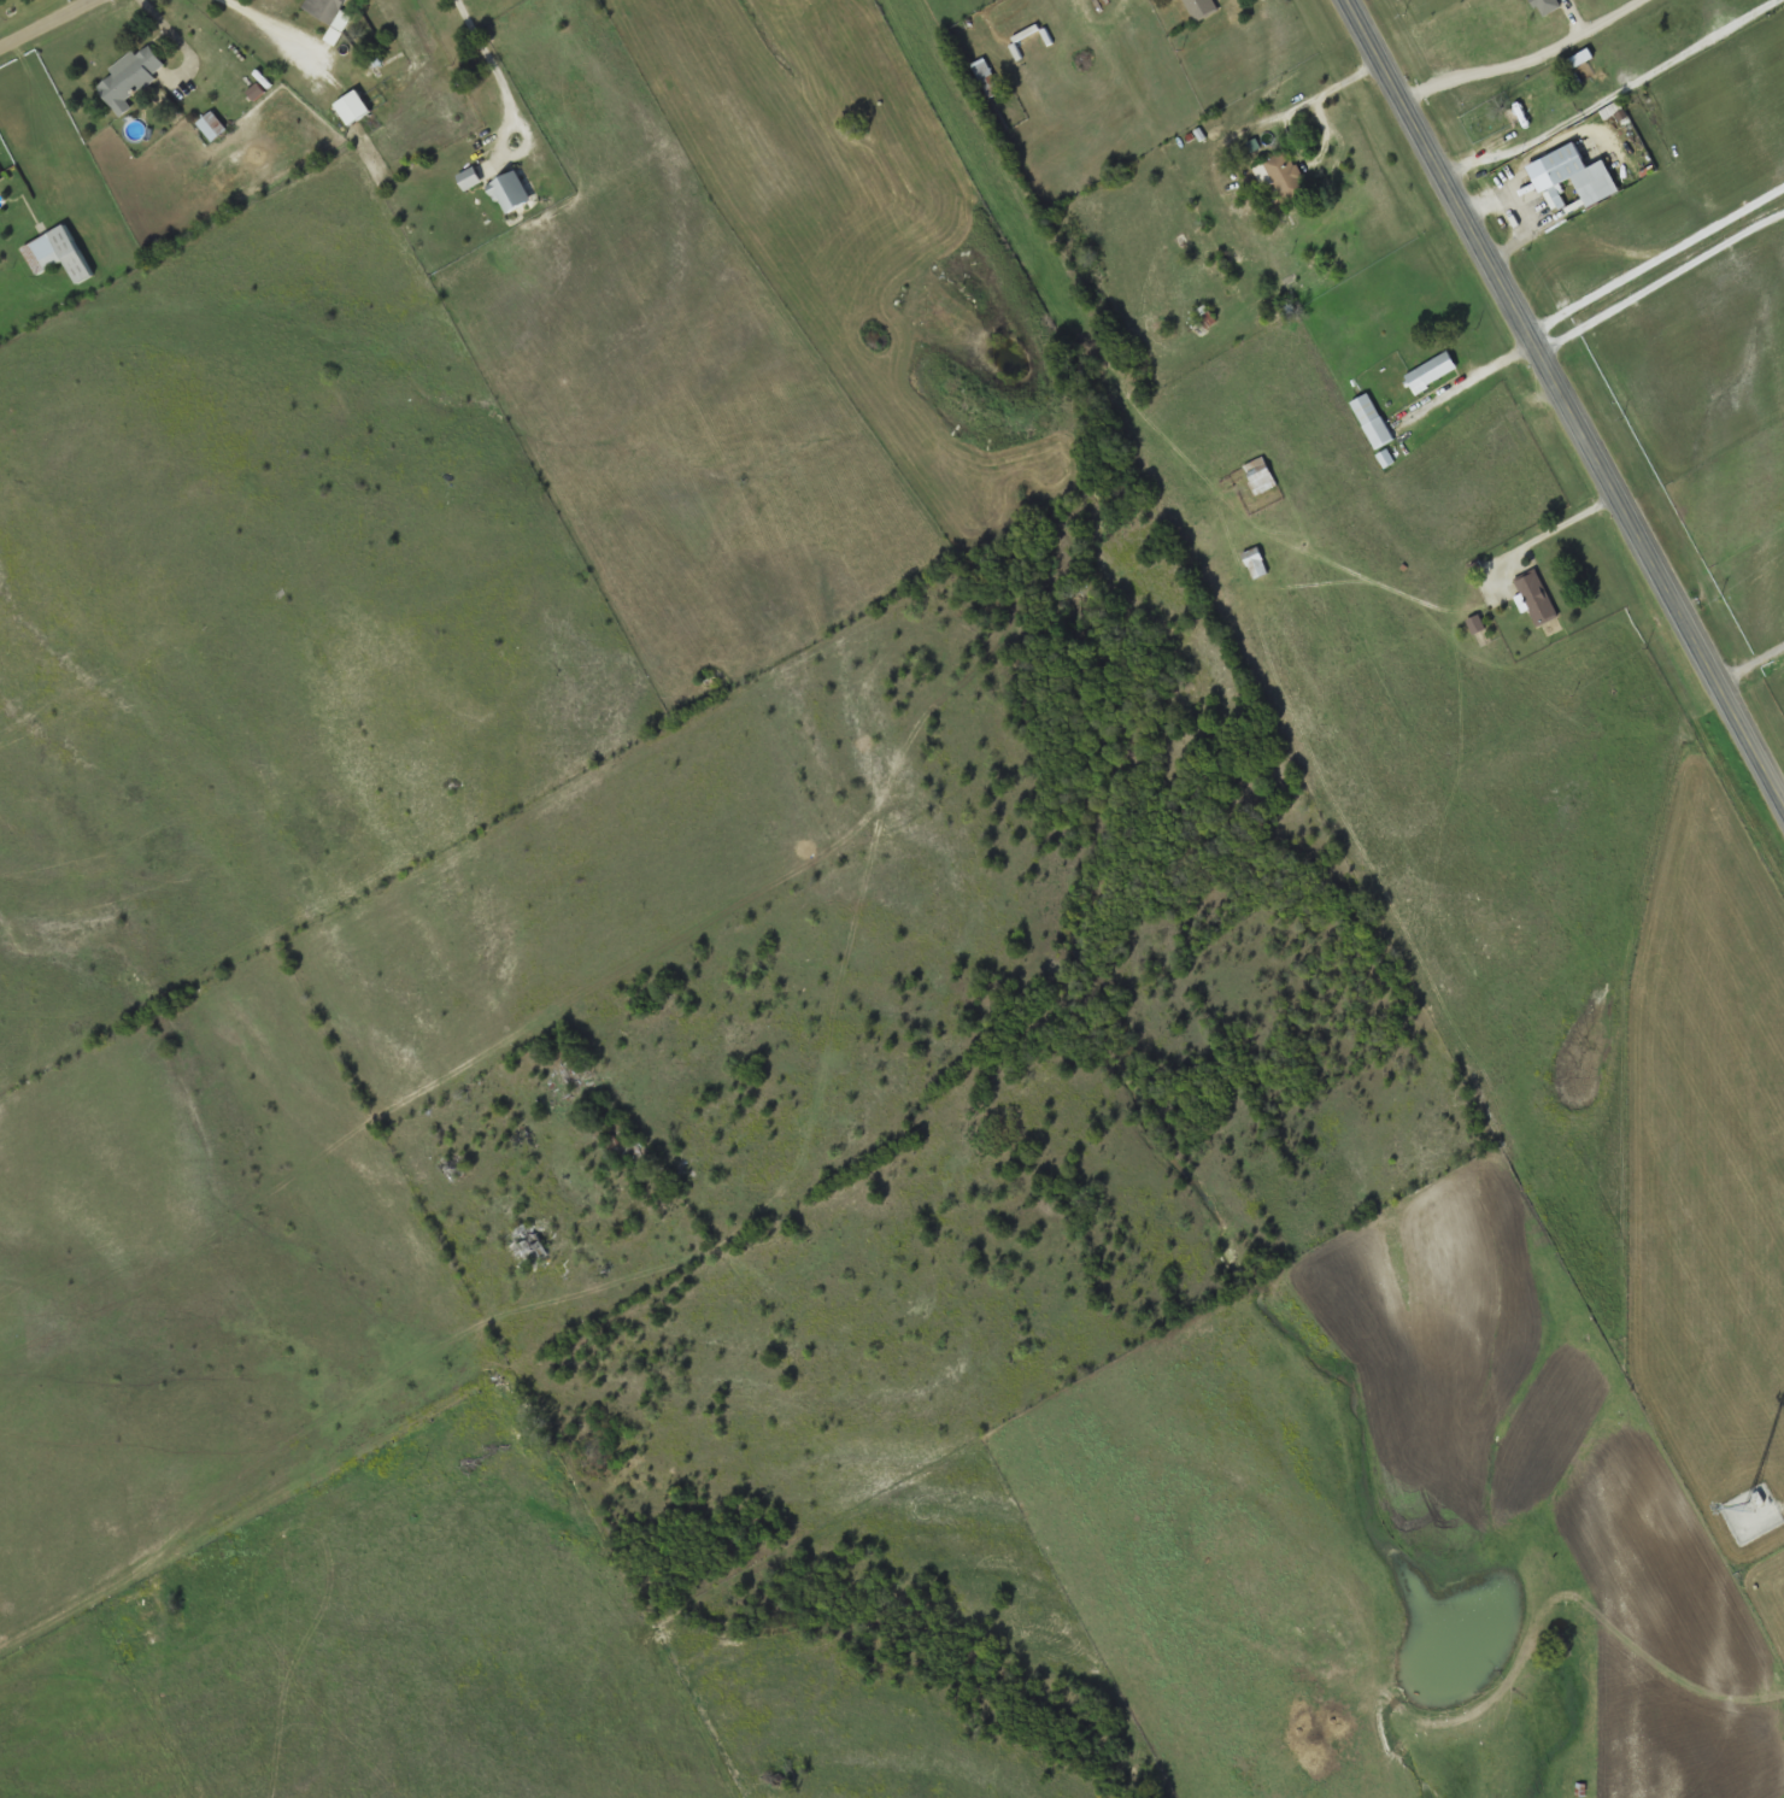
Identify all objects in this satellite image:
building: (1202, 8)
building: (328, 12)
road: (45, 23)
road: (489, 58)
building: (987, 78)
building: (131, 80)
building: (353, 108)
building: (212, 128)
building: (0, 177)
building: (470, 178)
building: (1284, 178)
building: (1580, 178)
building: (512, 193)
building: (58, 254)
building: (1433, 374)
road: (1569, 400)
building: (1373, 422)
building: (1260, 476)
building: (1256, 564)
building: (1538, 599)
road: (1751, 665)
building: (576, 1076)
building: (530, 1247)

